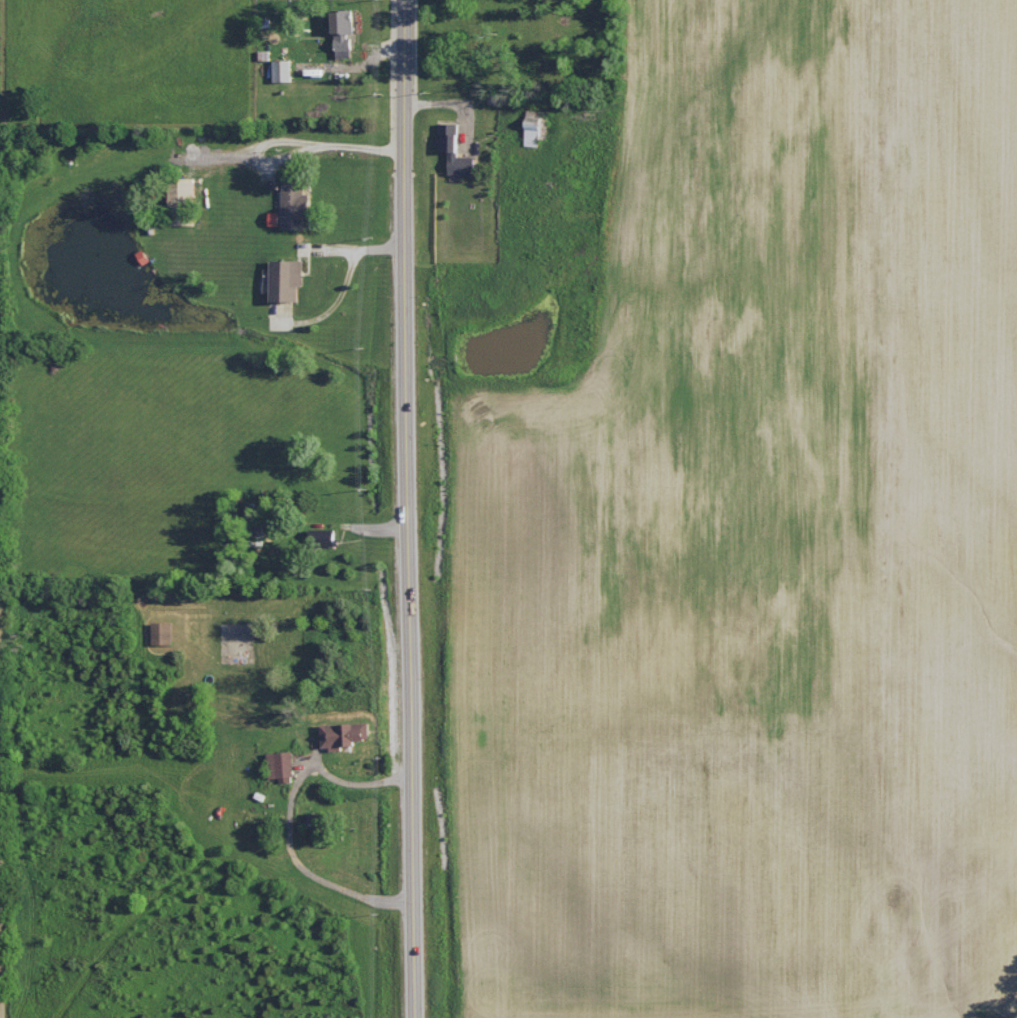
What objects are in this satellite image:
building: (347, 35)
building: (285, 70)
building: (537, 127)
road: (354, 147)
building: (299, 198)
building: (291, 279)
road: (409, 509)
building: (165, 632)
building: (340, 732)
building: (279, 764)
road: (290, 817)

